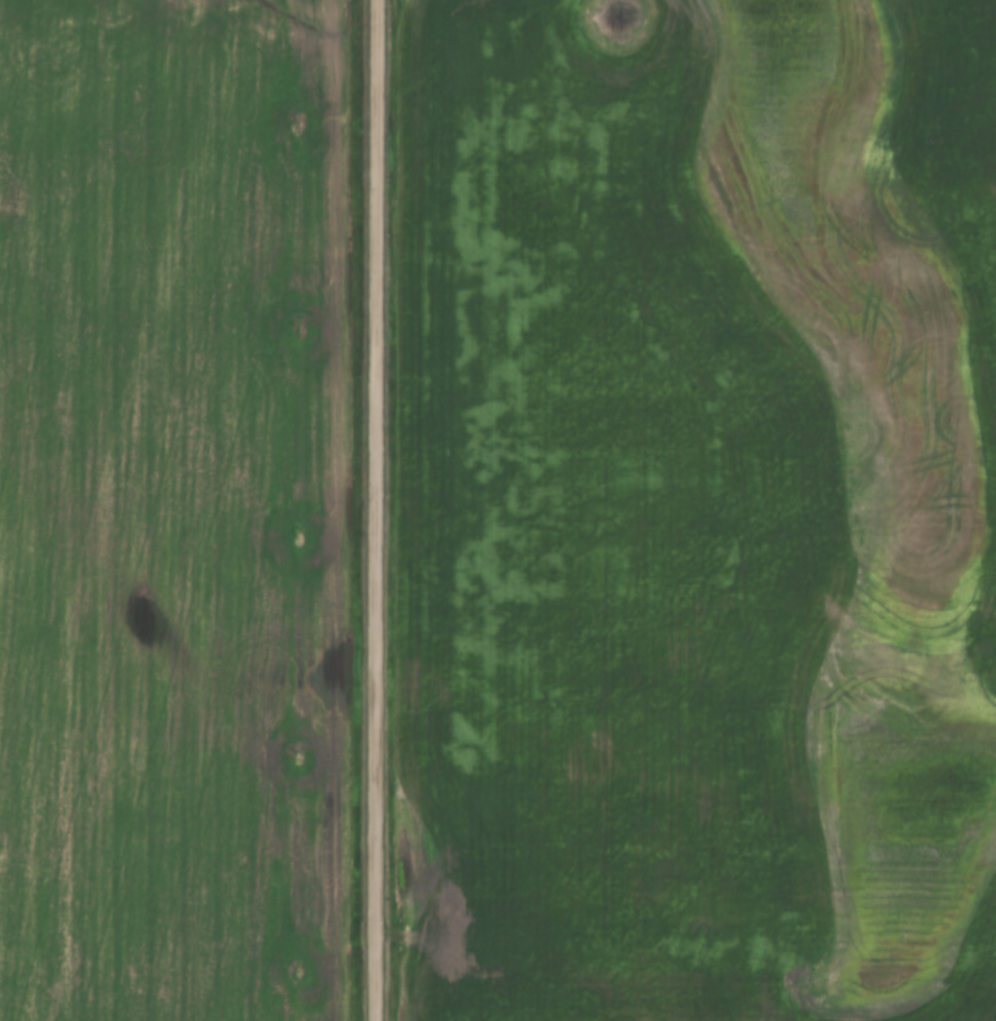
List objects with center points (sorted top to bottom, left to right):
road: (374, 510)

